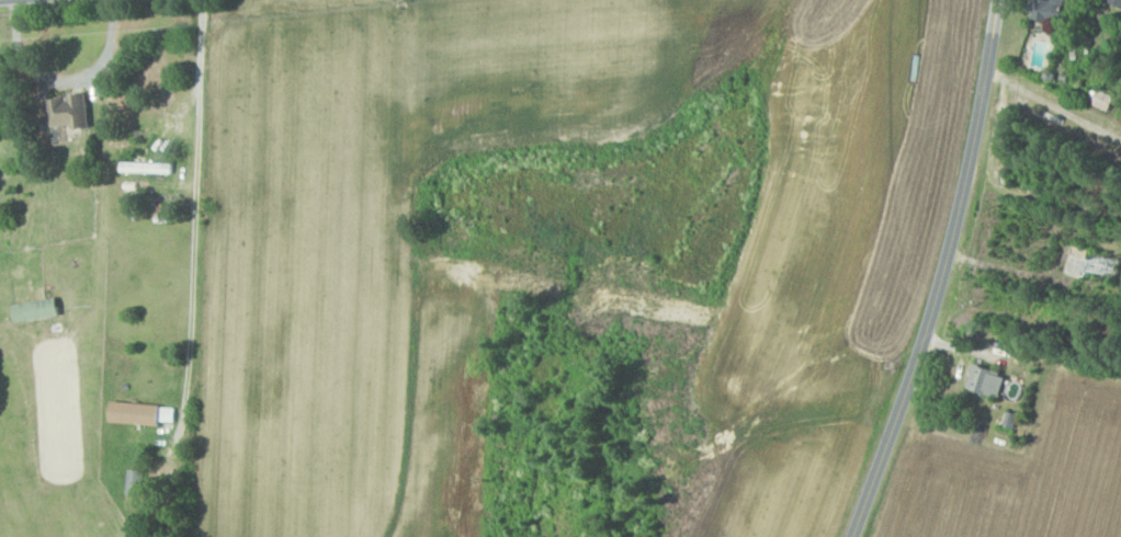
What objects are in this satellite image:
building: (1116, 1)
building: (1051, 10)
road: (67, 78)
road: (1052, 105)
building: (72, 115)
building: (149, 168)
road: (196, 220)
building: (1080, 262)
building: (1110, 264)
road: (941, 273)
building: (39, 309)
building: (988, 381)
building: (144, 413)
building: (139, 482)

